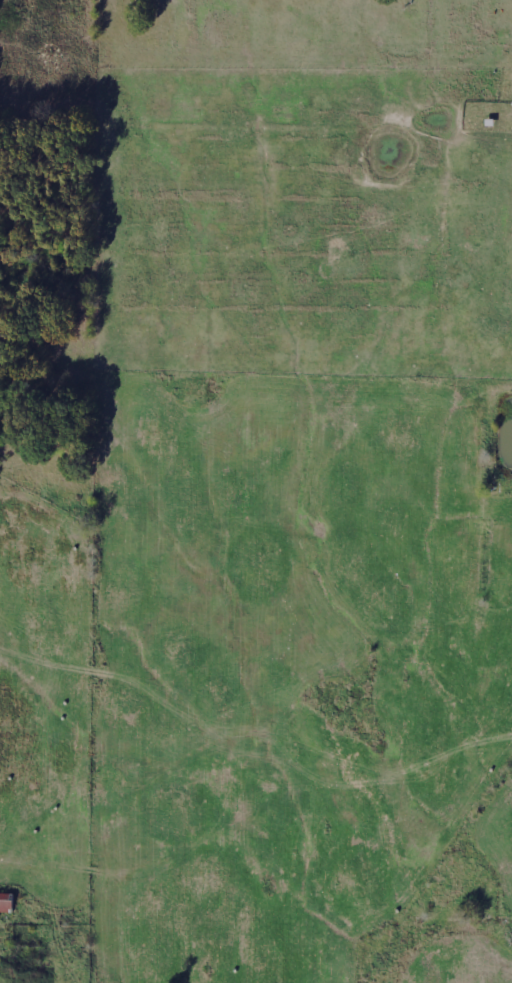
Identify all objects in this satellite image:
building: (6, 902)

